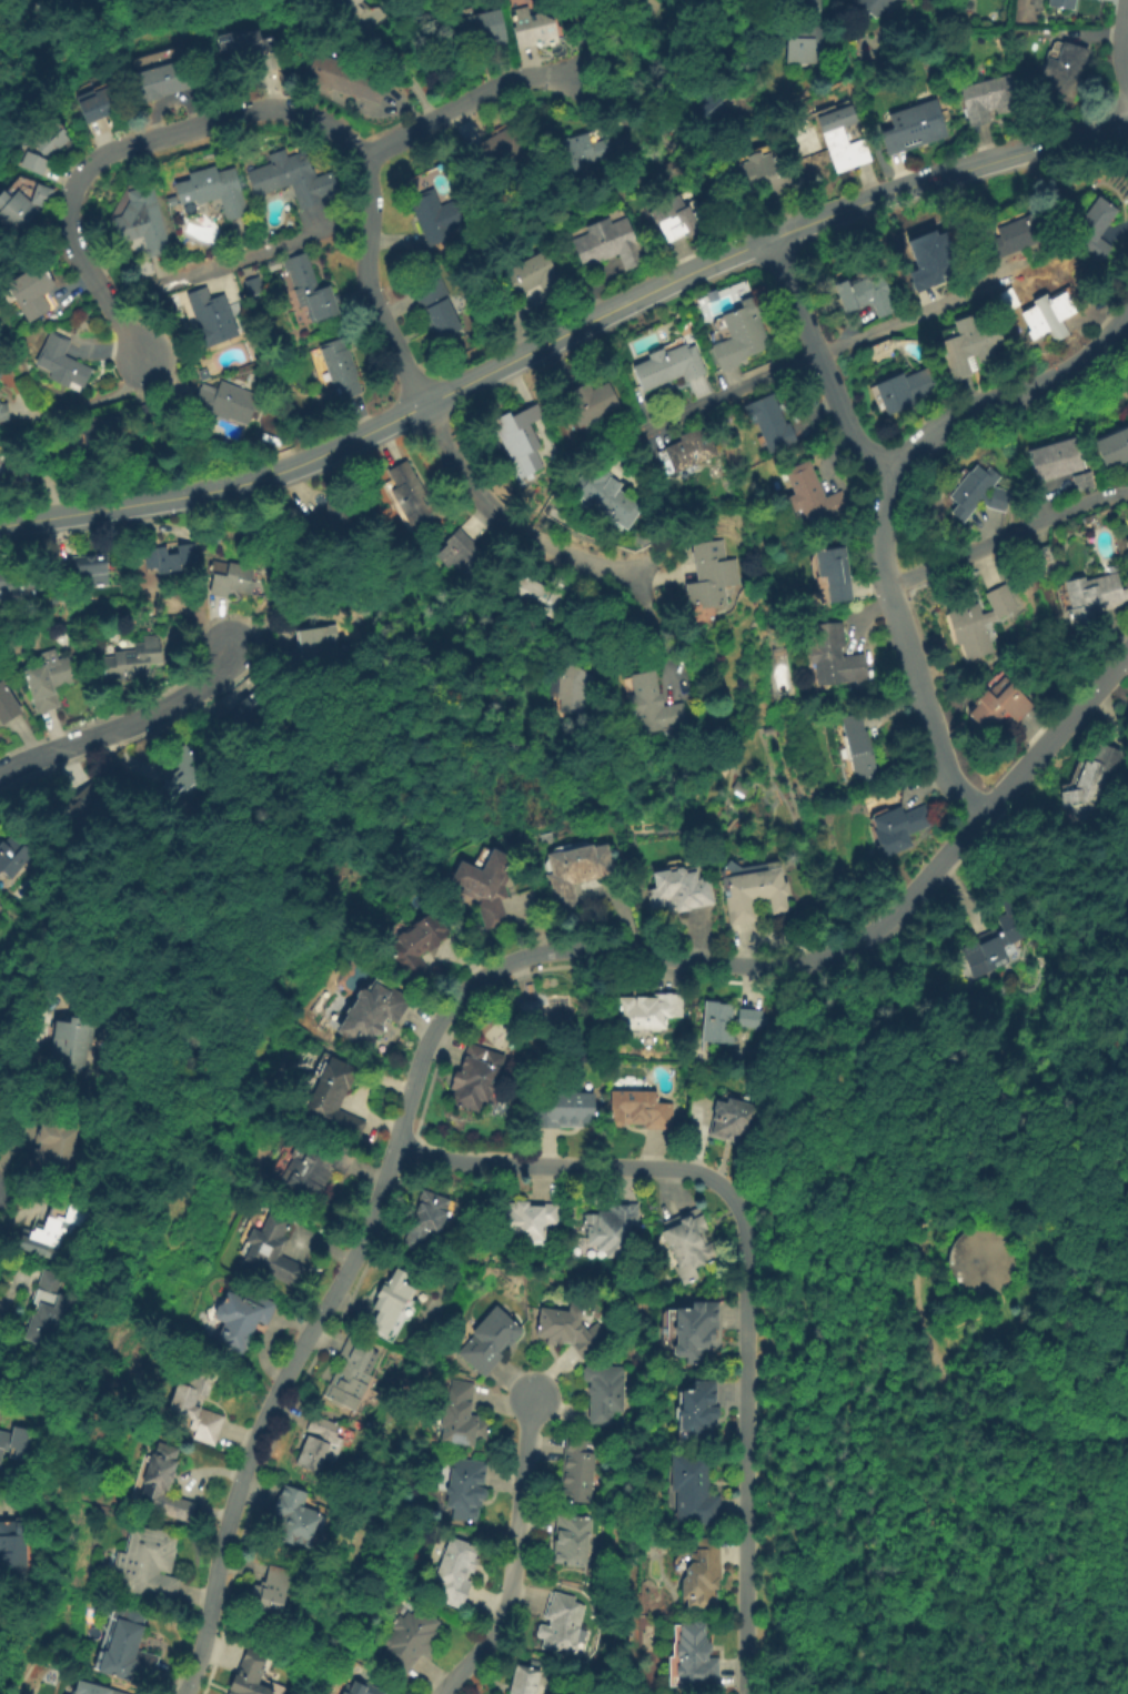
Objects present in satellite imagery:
building: (1061, 3)
building: (874, 6)
building: (345, 9)
building: (483, 29)
building: (533, 29)
building: (807, 36)
road: (1121, 42)
building: (245, 49)
road: (397, 69)
building: (1064, 70)
building: (342, 79)
building: (162, 81)
road: (475, 98)
building: (989, 99)
building: (98, 105)
building: (704, 114)
building: (915, 130)
building: (843, 140)
road: (122, 147)
building: (41, 148)
building: (494, 150)
building: (580, 155)
building: (764, 174)
building: (291, 180)
building: (211, 191)
building: (40, 195)
building: (14, 212)
building: (437, 216)
building: (140, 222)
building: (1091, 229)
building: (1019, 235)
building: (610, 244)
road: (276, 245)
building: (931, 261)
building: (534, 278)
road: (367, 284)
building: (309, 289)
building: (29, 292)
building: (866, 296)
building: (1008, 301)
building: (437, 310)
building: (1050, 314)
building: (210, 317)
road: (564, 331)
building: (739, 335)
building: (967, 346)
road: (806, 356)
road: (818, 359)
building: (59, 362)
building: (668, 366)
building: (340, 367)
building: (204, 373)
building: (0, 374)
building: (905, 390)
building: (229, 401)
road: (99, 402)
building: (591, 403)
building: (3, 411)
building: (145, 414)
building: (772, 424)
building: (101, 430)
building: (520, 440)
building: (691, 448)
building: (1112, 448)
building: (1055, 461)
building: (10, 471)
building: (1084, 481)
building: (977, 493)
building: (606, 495)
building: (812, 496)
building: (413, 498)
road: (875, 508)
road: (505, 522)
building: (330, 523)
road: (1007, 538)
building: (1126, 544)
building: (460, 553)
building: (170, 556)
building: (85, 568)
building: (712, 574)
building: (834, 574)
building: (225, 579)
building: (18, 584)
building: (540, 597)
building: (1092, 598)
building: (978, 623)
building: (595, 638)
building: (312, 647)
building: (833, 656)
building: (132, 659)
building: (48, 679)
building: (574, 689)
building: (8, 705)
building: (998, 705)
building: (654, 707)
building: (251, 715)
road: (129, 723)
building: (858, 748)
building: (187, 777)
building: (1091, 784)
building: (71, 814)
building: (899, 828)
road: (968, 828)
building: (13, 855)
building: (575, 874)
building: (486, 886)
building: (679, 890)
building: (754, 895)
building: (996, 940)
building: (417, 946)
building: (548, 1011)
building: (648, 1011)
building: (372, 1014)
building: (728, 1021)
building: (72, 1045)
road: (18, 1058)
building: (472, 1079)
building: (333, 1101)
building: (638, 1110)
building: (564, 1111)
building: (734, 1121)
building: (54, 1149)
building: (313, 1168)
road: (384, 1183)
building: (525, 1220)
building: (425, 1221)
building: (53, 1227)
building: (612, 1229)
building: (691, 1247)
building: (272, 1252)
road: (745, 1269)
road: (915, 1287)
building: (390, 1302)
building: (51, 1312)
building: (241, 1320)
building: (570, 1330)
building: (695, 1330)
park: (950, 1340)
building: (490, 1341)
building: (350, 1374)
building: (604, 1392)
building: (197, 1402)
building: (697, 1413)
building: (461, 1416)
building: (316, 1443)
building: (17, 1444)
building: (577, 1472)
building: (164, 1485)
building: (466, 1488)
building: (693, 1491)
road: (848, 1495)
building: (293, 1519)
building: (572, 1540)
building: (13, 1547)
road: (513, 1557)
building: (149, 1564)
building: (456, 1571)
building: (702, 1575)
building: (271, 1590)
road: (802, 1604)
building: (561, 1624)
building: (410, 1638)
building: (128, 1648)
building: (695, 1657)
building: (250, 1674)
building: (524, 1681)
building: (362, 1688)
building: (91, 1690)

